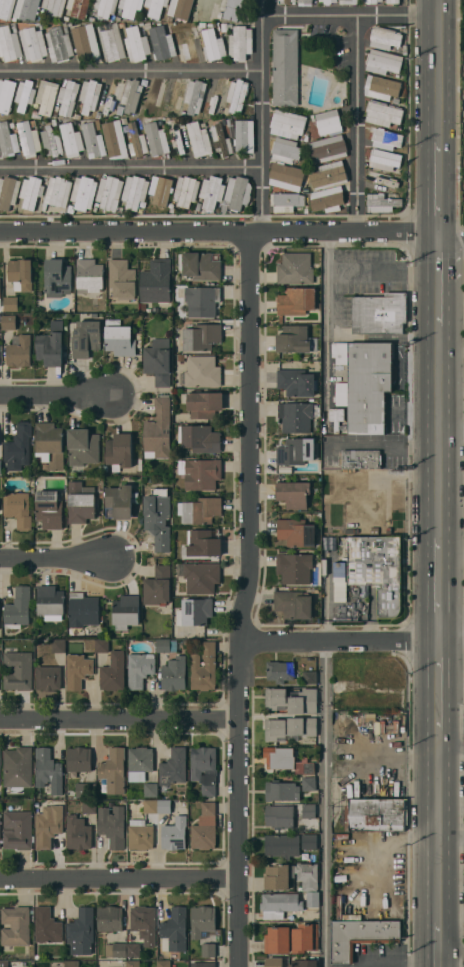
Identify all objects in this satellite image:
building: (286, 1)
building: (328, 1)
building: (372, 1)
building: (396, 1)
building: (305, 2)
building: (348, 2)
building: (53, 7)
building: (105, 7)
building: (130, 7)
building: (155, 7)
building: (6, 8)
building: (78, 8)
building: (26, 9)
building: (180, 9)
building: (206, 9)
building: (231, 9)
road: (351, 15)
building: (385, 38)
building: (85, 42)
building: (111, 42)
building: (240, 42)
building: (9, 43)
building: (33, 43)
building: (160, 43)
building: (59, 44)
building: (136, 44)
building: (188, 45)
building: (213, 45)
building: (383, 61)
building: (285, 67)
road: (438, 71)
road: (131, 73)
building: (382, 87)
building: (216, 93)
building: (7, 94)
building: (24, 94)
building: (111, 94)
building: (89, 95)
building: (131, 95)
building: (153, 95)
building: (174, 95)
building: (237, 95)
building: (46, 96)
building: (195, 96)
building: (67, 98)
building: (383, 113)
road: (263, 116)
building: (329, 123)
road: (357, 123)
building: (287, 124)
building: (244, 136)
building: (382, 138)
building: (29, 139)
building: (115, 139)
building: (156, 139)
building: (199, 139)
building: (8, 140)
building: (71, 140)
building: (178, 140)
building: (221, 140)
building: (93, 141)
building: (137, 141)
building: (52, 142)
building: (328, 149)
building: (285, 150)
building: (0, 155)
building: (384, 160)
road: (132, 166)
building: (329, 175)
building: (286, 176)
building: (383, 178)
road: (437, 189)
building: (134, 191)
building: (161, 191)
building: (186, 191)
building: (8, 192)
building: (31, 192)
building: (57, 192)
building: (83, 192)
building: (212, 192)
building: (238, 192)
building: (109, 193)
building: (327, 199)
building: (284, 202)
building: (382, 203)
road: (218, 232)
road: (450, 238)
road: (437, 258)
building: (199, 266)
building: (297, 269)
building: (20, 274)
building: (57, 276)
building: (89, 276)
road: (383, 276)
building: (122, 278)
building: (156, 282)
building: (199, 300)
building: (297, 301)
building: (10, 304)
road: (438, 304)
building: (379, 313)
building: (8, 322)
road: (327, 331)
building: (202, 336)
building: (119, 338)
building: (86, 339)
building: (295, 340)
building: (51, 345)
building: (333, 349)
building: (19, 352)
building: (158, 361)
building: (201, 372)
building: (297, 382)
building: (364, 386)
road: (53, 397)
building: (204, 404)
building: (297, 416)
road: (437, 429)
road: (450, 430)
building: (158, 431)
building: (201, 439)
building: (49, 445)
road: (384, 445)
building: (18, 447)
building: (82, 447)
building: (118, 450)
building: (295, 451)
building: (360, 459)
building: (0, 467)
building: (200, 473)
building: (293, 494)
building: (118, 502)
road: (386, 502)
building: (80, 503)
building: (18, 509)
building: (49, 509)
building: (199, 510)
building: (157, 524)
building: (296, 532)
building: (202, 543)
road: (55, 558)
building: (295, 567)
building: (340, 569)
building: (378, 569)
building: (199, 576)
road: (439, 581)
building: (158, 586)
road: (244, 599)
building: (50, 603)
building: (293, 604)
building: (17, 608)
building: (83, 610)
building: (126, 611)
building: (195, 612)
road: (452, 630)
road: (339, 640)
building: (163, 645)
building: (58, 646)
building: (101, 646)
building: (204, 667)
building: (140, 669)
building: (18, 670)
building: (77, 670)
building: (280, 671)
building: (113, 672)
building: (174, 674)
building: (1, 677)
building: (48, 677)
building: (309, 677)
road: (439, 679)
building: (340, 691)
building: (376, 699)
building: (292, 700)
road: (118, 720)
building: (290, 727)
road: (451, 748)
building: (279, 758)
building: (79, 759)
building: (139, 763)
building: (173, 768)
building: (304, 768)
building: (17, 769)
building: (204, 769)
building: (48, 771)
building: (113, 771)
building: (308, 783)
road: (329, 783)
building: (85, 789)
road: (422, 789)
building: (151, 790)
building: (281, 791)
building: (157, 806)
building: (89, 807)
building: (308, 810)
building: (1, 815)
building: (375, 815)
building: (280, 817)
building: (1, 822)
building: (48, 825)
building: (112, 825)
road: (437, 825)
building: (205, 828)
building: (18, 830)
building: (78, 833)
building: (175, 834)
building: (141, 835)
road: (374, 839)
road: (450, 840)
building: (290, 845)
building: (291, 876)
road: (119, 881)
building: (288, 903)
building: (110, 918)
building: (202, 920)
building: (144, 924)
building: (15, 926)
building: (47, 926)
building: (174, 930)
building: (81, 931)
building: (359, 936)
building: (305, 938)
building: (277, 940)
road: (436, 944)
building: (208, 948)
building: (115, 950)
building: (133, 950)
building: (274, 962)
building: (72, 963)
building: (133, 963)
building: (163, 963)
building: (303, 963)
building: (203, 964)
road: (382, 964)
building: (4, 966)

